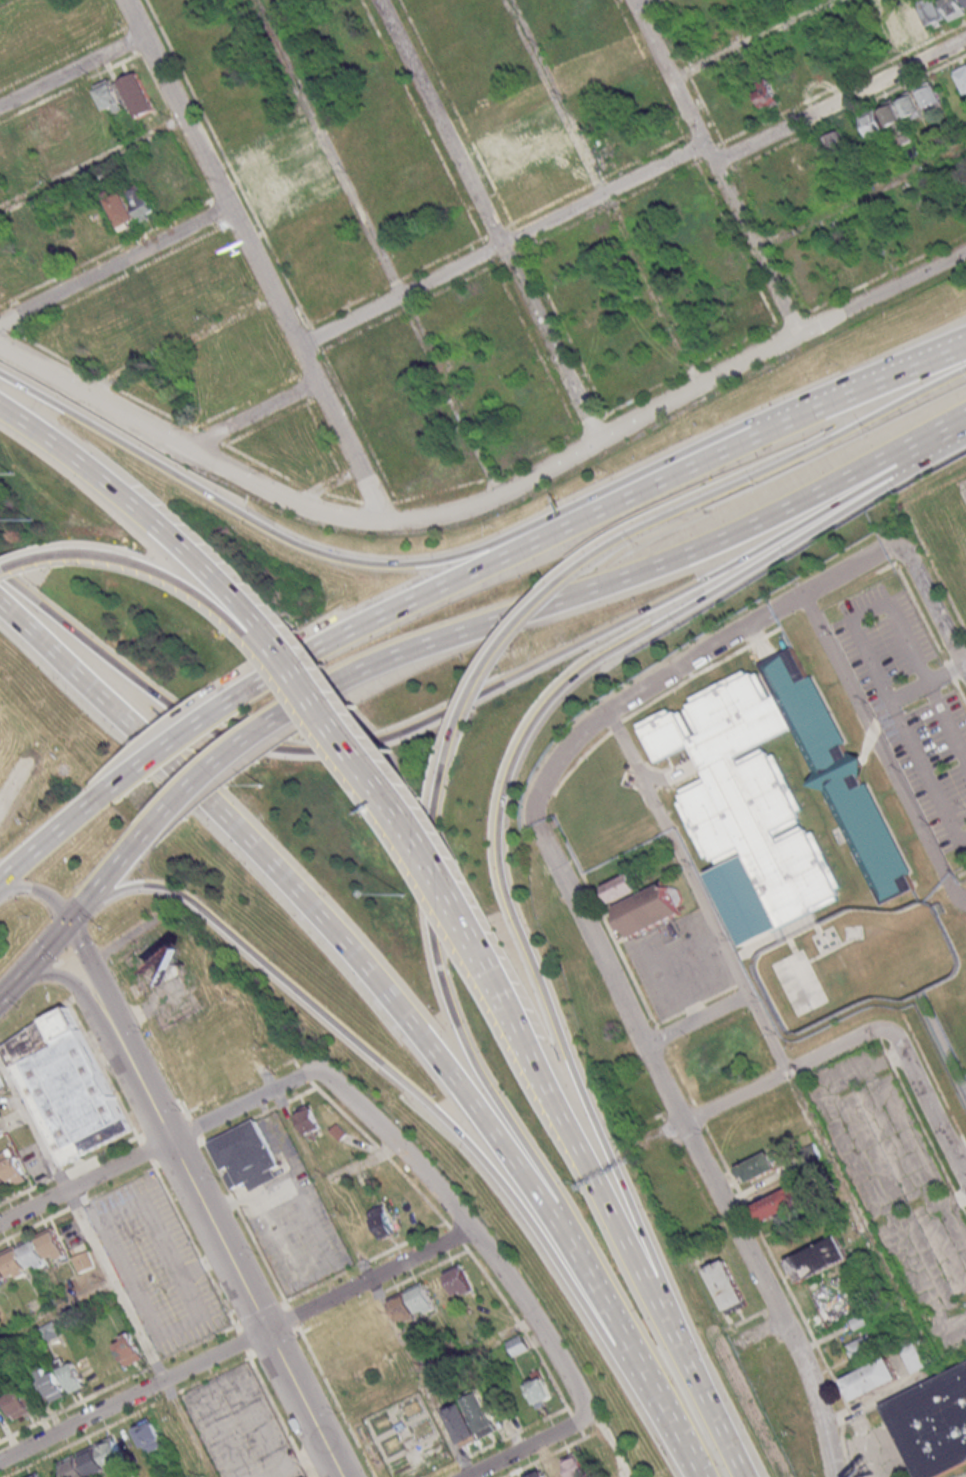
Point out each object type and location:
building: (965, 1)
road: (5, 2)
building: (954, 8)
building: (934, 13)
road: (117, 16)
road: (134, 23)
building: (916, 24)
building: (896, 30)
road: (753, 38)
road: (129, 41)
road: (63, 57)
road: (654, 68)
road: (73, 70)
building: (961, 78)
road: (70, 86)
building: (137, 96)
road: (556, 96)
building: (109, 97)
building: (930, 97)
road: (841, 100)
building: (910, 105)
road: (456, 111)
building: (880, 117)
building: (56, 123)
road: (698, 129)
road: (717, 131)
building: (837, 141)
road: (691, 148)
building: (303, 149)
building: (5, 154)
road: (646, 154)
road: (728, 154)
building: (514, 160)
road: (229, 164)
road: (94, 165)
road: (719, 165)
building: (315, 168)
road: (215, 172)
building: (260, 173)
road: (598, 180)
building: (269, 192)
road: (863, 194)
road: (751, 199)
building: (140, 204)
road: (548, 204)
building: (122, 211)
road: (488, 220)
road: (496, 230)
road: (771, 239)
road: (736, 241)
road: (505, 242)
road: (378, 247)
building: (49, 250)
road: (444, 256)
road: (116, 264)
road: (884, 273)
road: (790, 277)
road: (395, 281)
road: (653, 289)
road: (883, 292)
building: (143, 297)
road: (349, 304)
road: (791, 317)
building: (162, 331)
road: (315, 337)
road: (740, 342)
road: (182, 343)
road: (312, 361)
road: (693, 365)
road: (308, 370)
road: (859, 387)
road: (644, 394)
road: (253, 413)
road: (591, 423)
road: (359, 424)
road: (196, 428)
road: (598, 441)
road: (187, 448)
road: (353, 450)
road: (541, 451)
road: (934, 451)
road: (769, 467)
road: (493, 475)
road: (328, 483)
road: (316, 489)
road: (440, 490)
road: (346, 497)
road: (381, 502)
road: (146, 514)
road: (534, 541)
road: (366, 562)
road: (11, 564)
road: (157, 573)
road: (625, 576)
road: (930, 600)
road: (501, 645)
road: (276, 648)
road: (685, 663)
road: (964, 665)
road: (964, 668)
road: (926, 682)
road: (448, 706)
road: (198, 725)
road: (882, 749)
road: (669, 778)
road: (204, 780)
road: (502, 786)
building: (772, 796)
road: (392, 801)
road: (44, 847)
road: (113, 876)
road: (43, 890)
building: (625, 890)
road: (699, 891)
building: (652, 911)
road: (81, 913)
traffic signals: (74, 921)
road: (127, 936)
road: (47, 950)
road: (95, 964)
road: (119, 976)
road: (67, 978)
road: (440, 986)
road: (10, 989)
road: (394, 1004)
road: (147, 1009)
road: (136, 1013)
road: (700, 1018)
road: (34, 1023)
road: (117, 1033)
road: (877, 1033)
road: (883, 1045)
road: (890, 1058)
road: (285, 1061)
road: (295, 1062)
road: (166, 1070)
road: (104, 1071)
road: (263, 1071)
road: (788, 1071)
road: (302, 1073)
road: (934, 1077)
building: (2, 1084)
building: (65, 1086)
road: (409, 1088)
road: (219, 1093)
road: (150, 1098)
road: (931, 1098)
road: (243, 1103)
road: (256, 1114)
road: (161, 1122)
building: (308, 1123)
road: (195, 1125)
road: (925, 1128)
building: (337, 1131)
building: (1, 1132)
road: (700, 1147)
road: (145, 1150)
road: (381, 1152)
road: (579, 1152)
road: (177, 1153)
building: (247, 1157)
road: (362, 1165)
building: (12, 1166)
road: (151, 1167)
building: (760, 1167)
road: (71, 1168)
road: (873, 1176)
road: (124, 1179)
road: (84, 1181)
building: (3, 1182)
road: (960, 1198)
building: (782, 1208)
road: (965, 1208)
road: (52, 1215)
road: (243, 1221)
road: (84, 1222)
building: (382, 1222)
road: (457, 1236)
street lamp: (141, 1239)
road: (406, 1241)
building: (52, 1244)
road: (194, 1245)
building: (32, 1254)
building: (821, 1258)
road: (494, 1260)
building: (83, 1261)
road: (360, 1262)
building: (14, 1263)
parking lot: (157, 1266)
road: (427, 1269)
building: (3, 1275)
building: (459, 1281)
road: (319, 1283)
road: (373, 1283)
building: (729, 1289)
street lamp: (165, 1291)
road: (379, 1292)
road: (281, 1301)
building: (423, 1301)
road: (317, 1304)
road: (255, 1308)
road: (666, 1308)
road: (57, 1312)
road: (259, 1312)
building: (406, 1313)
road: (292, 1315)
road: (333, 1315)
road: (520, 1327)
building: (52, 1333)
road: (241, 1340)
road: (274, 1343)
building: (517, 1345)
building: (128, 1347)
building: (864, 1347)
road: (249, 1353)
building: (915, 1358)
road: (211, 1374)
building: (72, 1377)
building: (871, 1379)
road: (120, 1381)
building: (52, 1382)
building: (539, 1391)
road: (170, 1394)
road: (877, 1399)
road: (335, 1400)
building: (17, 1403)
road: (705, 1408)
road: (277, 1412)
road: (81, 1418)
building: (471, 1419)
road: (575, 1421)
building: (934, 1426)
parking lot: (241, 1428)
road: (517, 1430)
road: (191, 1431)
road: (582, 1432)
building: (149, 1436)
road: (83, 1437)
road: (529, 1445)
road: (552, 1451)
road: (462, 1458)
building: (92, 1459)
road: (441, 1469)
building: (565, 1469)
building: (37, 1475)

